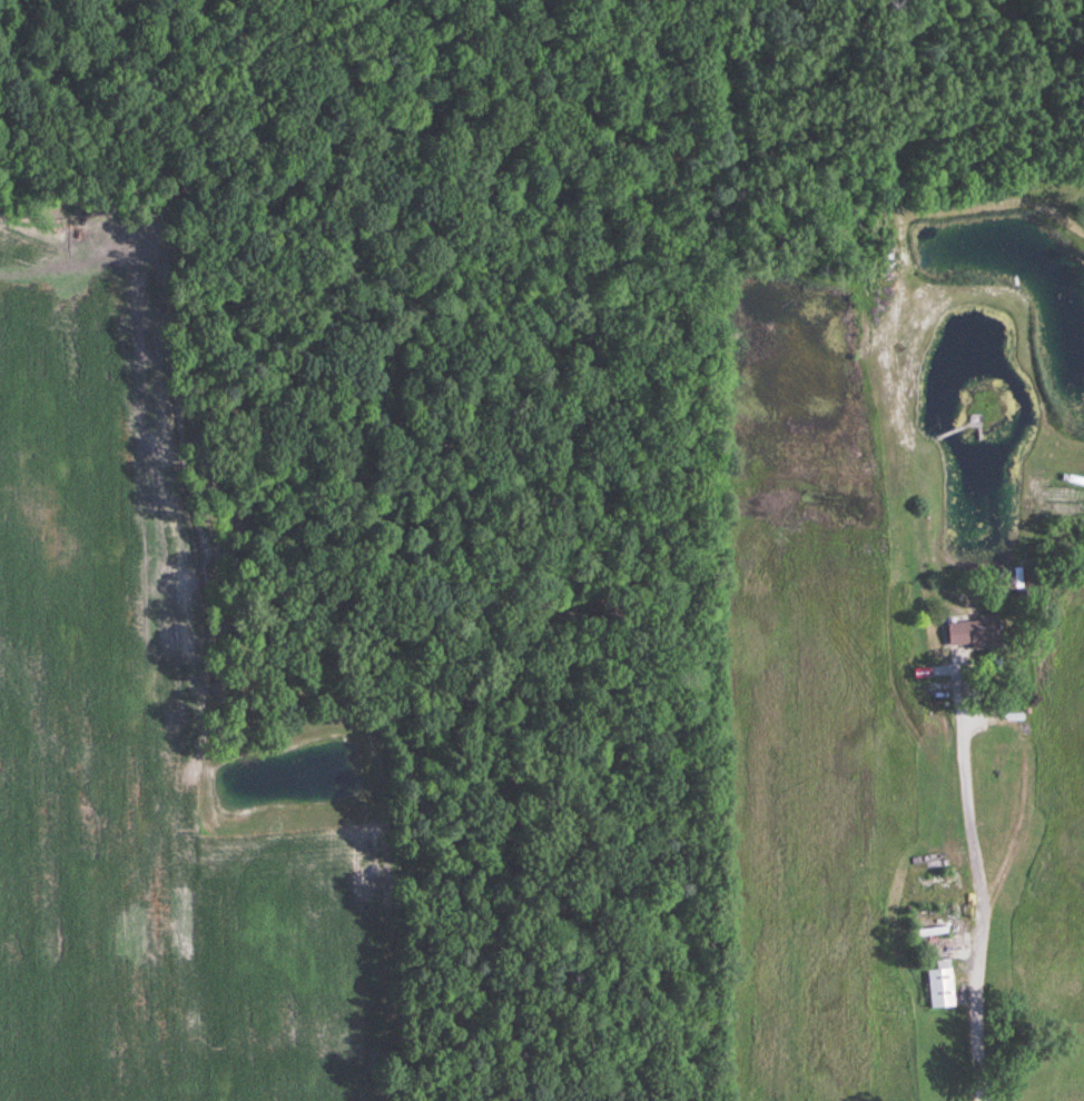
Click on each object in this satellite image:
building: (972, 634)
road: (965, 891)
building: (942, 986)

